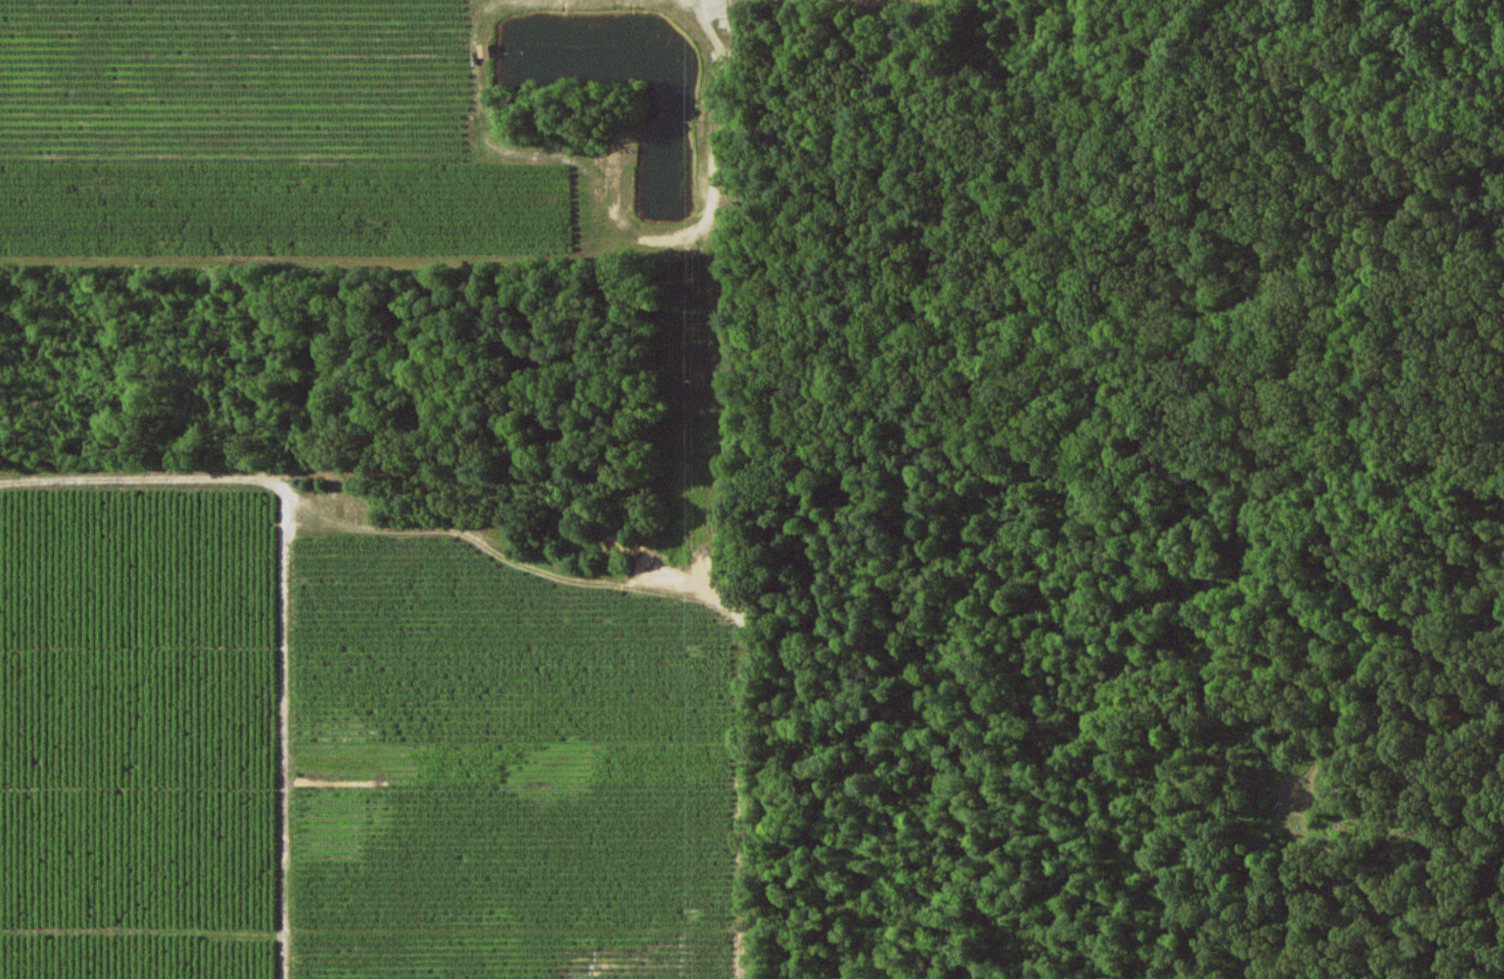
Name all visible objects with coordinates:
road: (290, 587)

